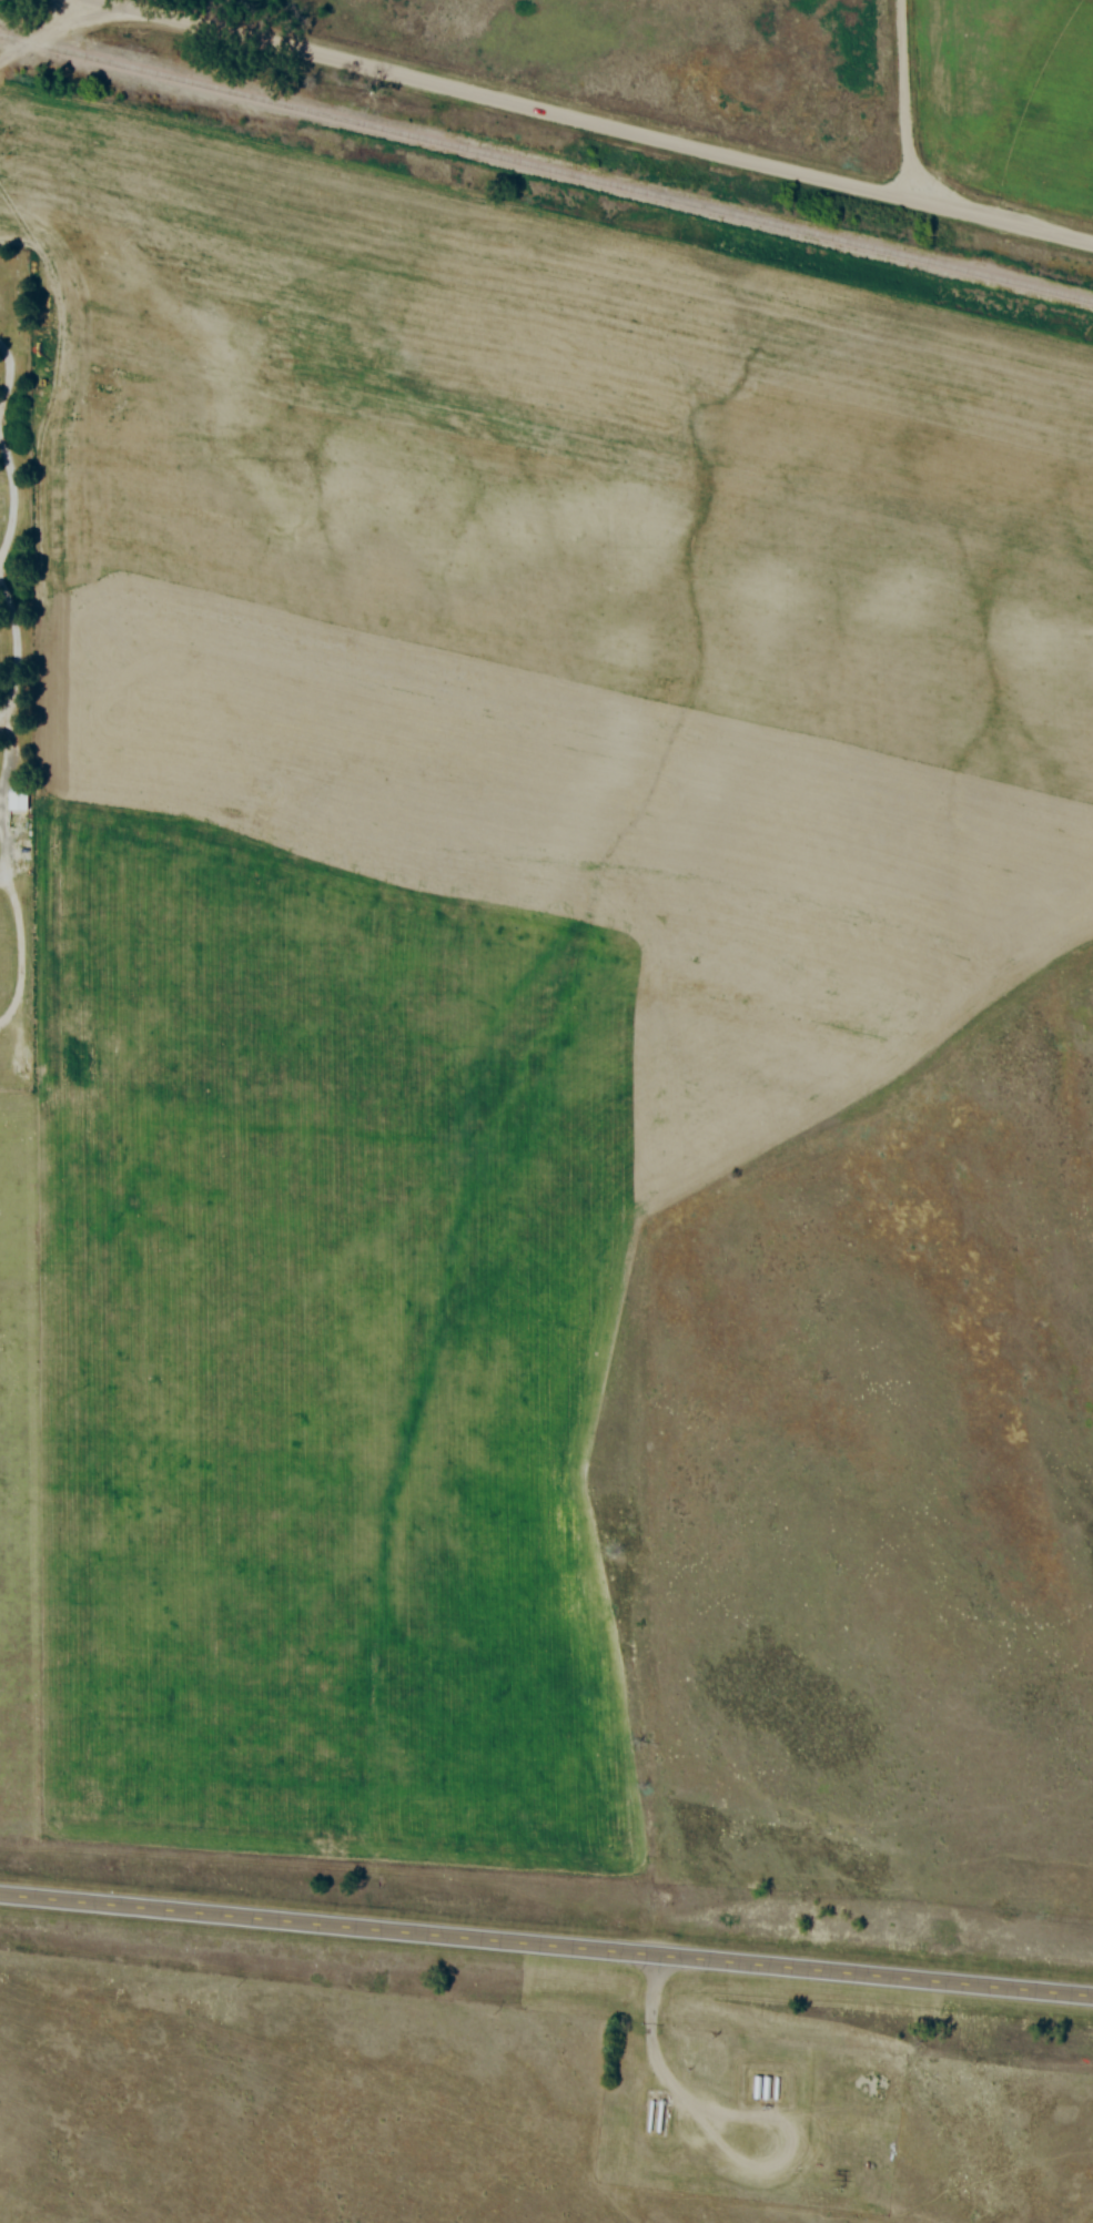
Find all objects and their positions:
road: (43, 33)
road: (907, 101)
road: (596, 124)
railway: (546, 166)
road: (9, 372)
road: (10, 487)
road: (14, 649)
road: (1, 791)
building: (17, 799)
crop: (456, 923)
road: (20, 950)
road: (546, 1949)
road: (664, 2072)

